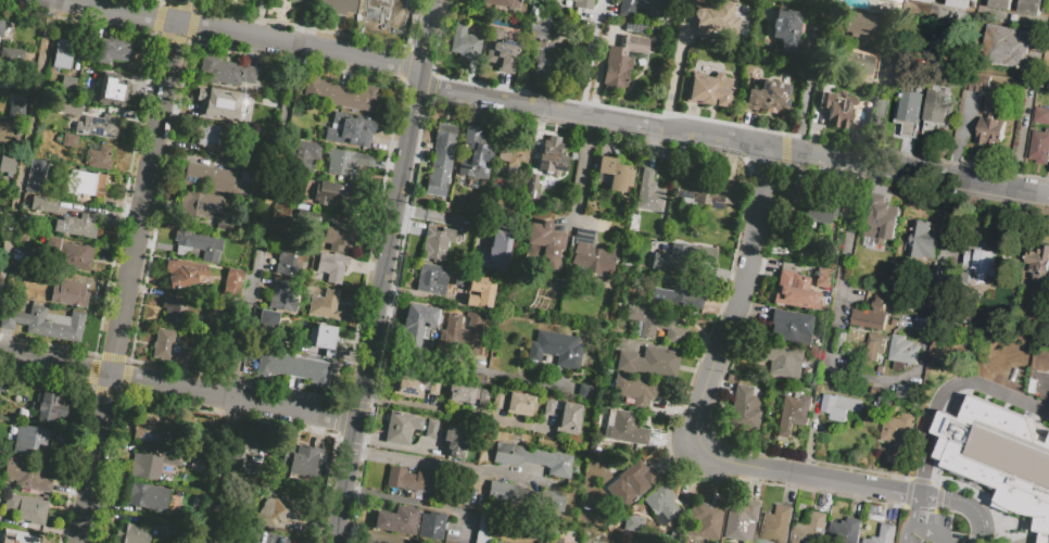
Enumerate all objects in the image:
building: (266, 0)
building: (296, 0)
building: (889, 1)
building: (927, 1)
building: (504, 3)
building: (583, 3)
building: (961, 3)
building: (338, 5)
building: (1001, 5)
building: (625, 8)
building: (653, 8)
building: (1032, 8)
building: (381, 9)
building: (705, 21)
building: (857, 23)
building: (1, 25)
building: (541, 27)
building: (786, 31)
road: (240, 36)
road: (427, 36)
building: (465, 41)
building: (633, 43)
building: (949, 47)
building: (1007, 48)
building: (115, 50)
building: (503, 52)
building: (63, 53)
road: (592, 58)
building: (542, 59)
building: (856, 62)
building: (227, 70)
building: (612, 70)
road: (673, 70)
building: (87, 71)
building: (975, 83)
building: (67, 84)
building: (715, 85)
building: (112, 90)
building: (320, 91)
road: (808, 91)
building: (766, 96)
building: (358, 98)
building: (216, 101)
road: (882, 105)
building: (68, 106)
building: (937, 106)
building: (15, 109)
building: (836, 109)
building: (910, 113)
road: (1027, 114)
building: (1041, 116)
road: (592, 119)
building: (98, 126)
building: (351, 129)
building: (991, 132)
building: (68, 139)
building: (220, 139)
road: (732, 140)
building: (1039, 148)
road: (29, 153)
building: (477, 153)
building: (303, 154)
building: (511, 154)
building: (553, 155)
building: (99, 159)
building: (441, 160)
building: (346, 161)
building: (7, 165)
building: (612, 174)
building: (252, 175)
building: (36, 176)
building: (208, 177)
building: (85, 182)
building: (533, 191)
building: (648, 191)
building: (705, 193)
building: (334, 197)
building: (42, 204)
building: (194, 205)
building: (814, 212)
building: (311, 217)
building: (224, 224)
building: (74, 225)
building: (881, 228)
building: (339, 237)
building: (485, 239)
building: (546, 239)
building: (923, 241)
building: (437, 243)
building: (197, 244)
building: (494, 250)
building: (592, 253)
building: (74, 256)
building: (681, 256)
building: (288, 260)
building: (985, 265)
building: (331, 266)
building: (1039, 266)
building: (775, 268)
road: (129, 270)
road: (257, 270)
building: (21, 273)
building: (184, 273)
building: (859, 275)
building: (821, 278)
building: (430, 279)
building: (232, 281)
building: (935, 282)
building: (793, 290)
building: (820, 290)
building: (478, 291)
building: (69, 293)
building: (283, 294)
road: (427, 295)
building: (684, 295)
building: (324, 304)
road: (378, 307)
building: (178, 311)
building: (420, 315)
building: (872, 315)
building: (897, 316)
building: (46, 323)
building: (269, 323)
building: (896, 324)
building: (655, 325)
building: (789, 326)
building: (463, 332)
building: (413, 336)
building: (324, 340)
building: (875, 346)
building: (169, 348)
building: (556, 349)
road: (833, 350)
building: (902, 351)
building: (781, 359)
building: (649, 361)
building: (275, 364)
building: (312, 370)
road: (464, 370)
building: (824, 379)
building: (406, 386)
building: (433, 386)
road: (178, 388)
building: (637, 388)
building: (587, 392)
building: (907, 392)
road: (944, 393)
building: (459, 394)
building: (880, 394)
building: (483, 397)
building: (497, 400)
road: (702, 403)
building: (519, 404)
building: (547, 406)
building: (48, 407)
building: (839, 407)
building: (745, 408)
road: (456, 414)
building: (793, 414)
building: (568, 418)
building: (400, 426)
building: (147, 428)
building: (627, 428)
building: (431, 429)
building: (900, 433)
building: (29, 440)
building: (455, 440)
building: (245, 451)
building: (532, 457)
building: (1000, 457)
building: (299, 459)
building: (152, 464)
building: (201, 464)
road: (446, 465)
building: (26, 476)
building: (409, 479)
building: (632, 485)
building: (147, 496)
building: (526, 496)
road: (914, 500)
road: (404, 501)
building: (661, 502)
road: (961, 507)
building: (25, 508)
building: (281, 513)
road: (917, 514)
building: (396, 520)
building: (705, 520)
building: (740, 521)
building: (633, 522)
building: (431, 526)
building: (478, 526)
building: (774, 526)
building: (811, 530)
building: (845, 531)
road: (903, 532)
road: (928, 532)
building: (131, 533)
building: (883, 535)
building: (17, 536)
parking lot: (247, 536)
building: (379, 539)
building: (552, 540)
building: (498, 542)

